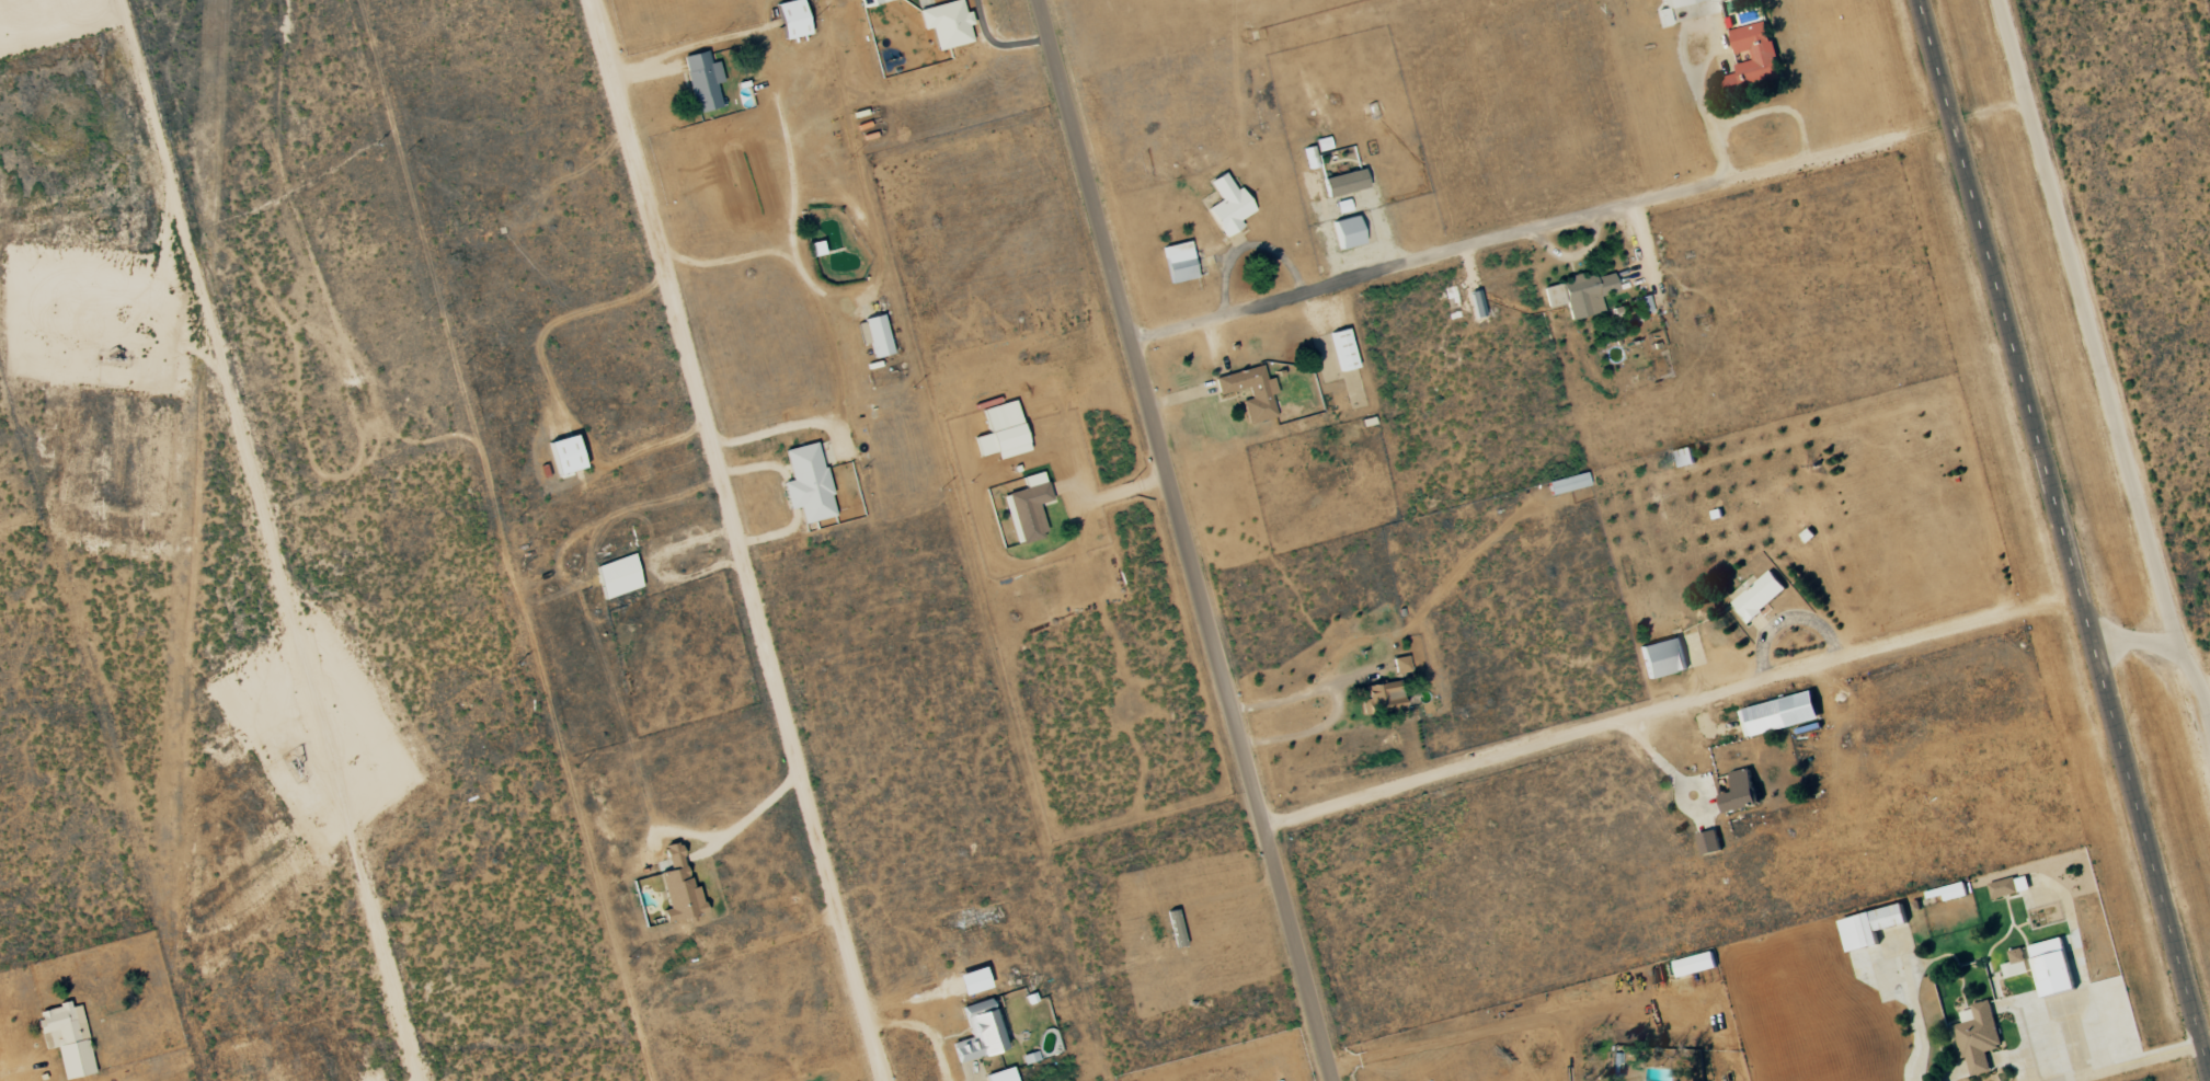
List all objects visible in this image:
building: (872, 2)
building: (1679, 2)
building: (792, 19)
building: (947, 23)
building: (1754, 58)
building: (702, 81)
building: (1324, 143)
building: (1346, 182)
building: (1228, 206)
building: (1348, 232)
road: (1530, 233)
building: (816, 249)
building: (1179, 262)
building: (1580, 295)
building: (1642, 304)
building: (874, 335)
building: (1343, 349)
airport: (2105, 371)
building: (1251, 391)
building: (1003, 432)
building: (565, 456)
building: (1684, 457)
building: (808, 483)
building: (1568, 483)
building: (1028, 508)
road: (733, 540)
road: (1181, 540)
airport runway: (2058, 540)
building: (618, 576)
building: (1759, 596)
building: (1663, 657)
building: (1401, 665)
building: (1382, 698)
road: (1659, 710)
building: (1778, 714)
building: (1741, 792)
road: (735, 828)
building: (1709, 842)
building: (678, 886)
building: (2009, 886)
building: (1948, 892)
building: (1870, 927)
building: (2015, 963)
building: (1694, 964)
building: (2052, 967)
building: (978, 1032)
building: (1978, 1037)
building: (66, 1038)
road: (2134, 1067)
building: (1001, 1074)

